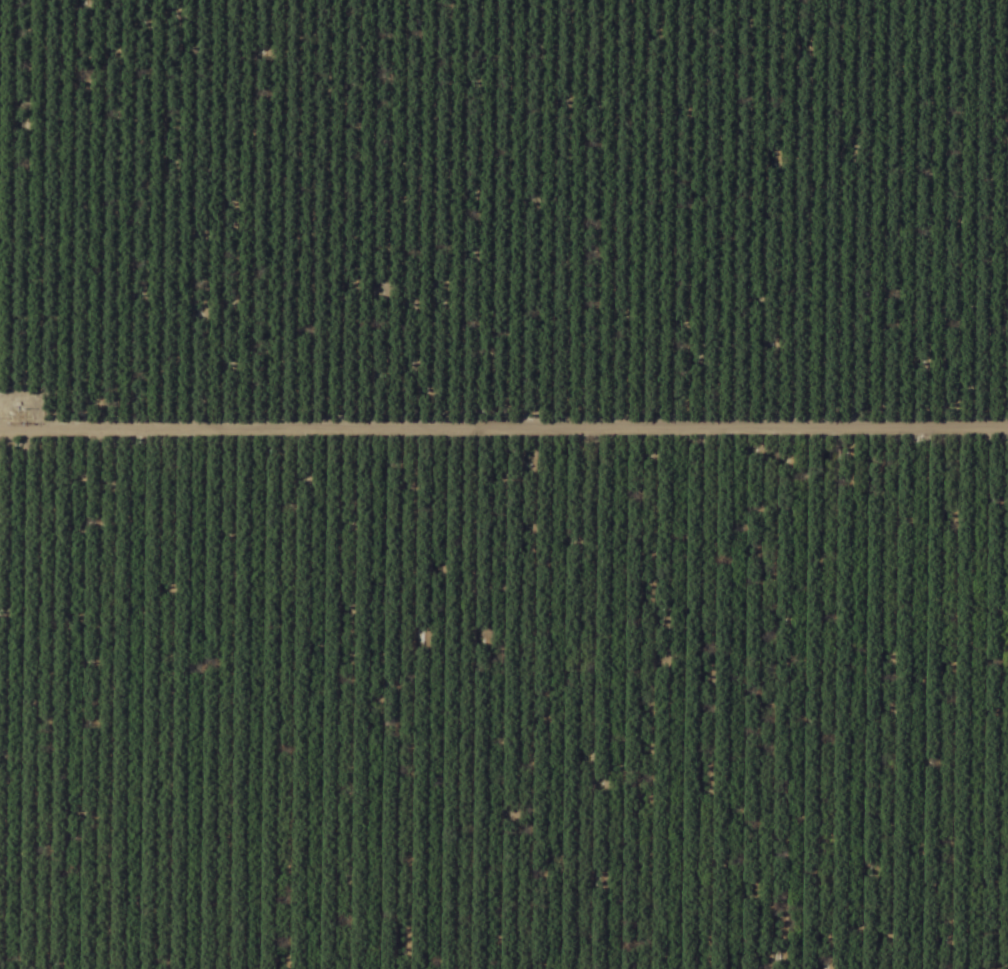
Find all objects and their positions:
road: (60, 9)
road: (437, 10)
road: (177, 19)
road: (504, 422)
crop: (504, 484)
road: (504, 492)

